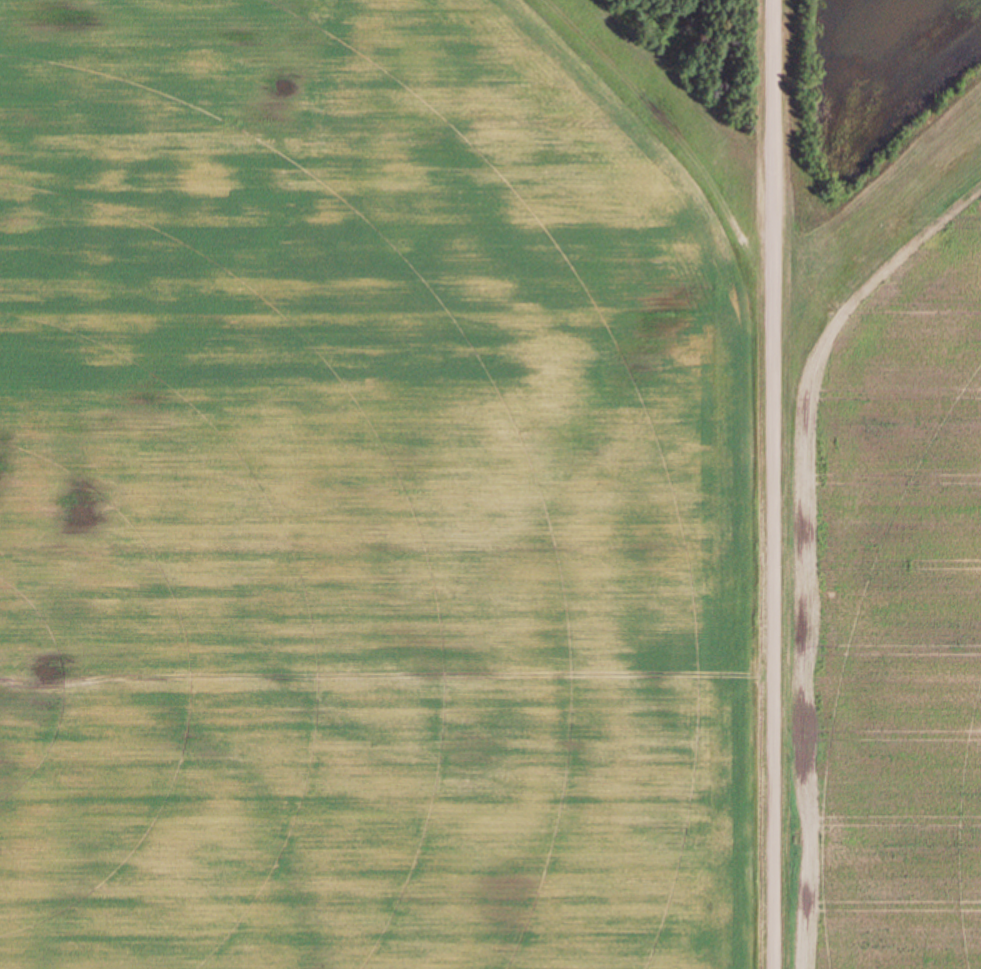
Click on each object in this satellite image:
crop: (890, 483)
road: (775, 484)
crop: (370, 490)

